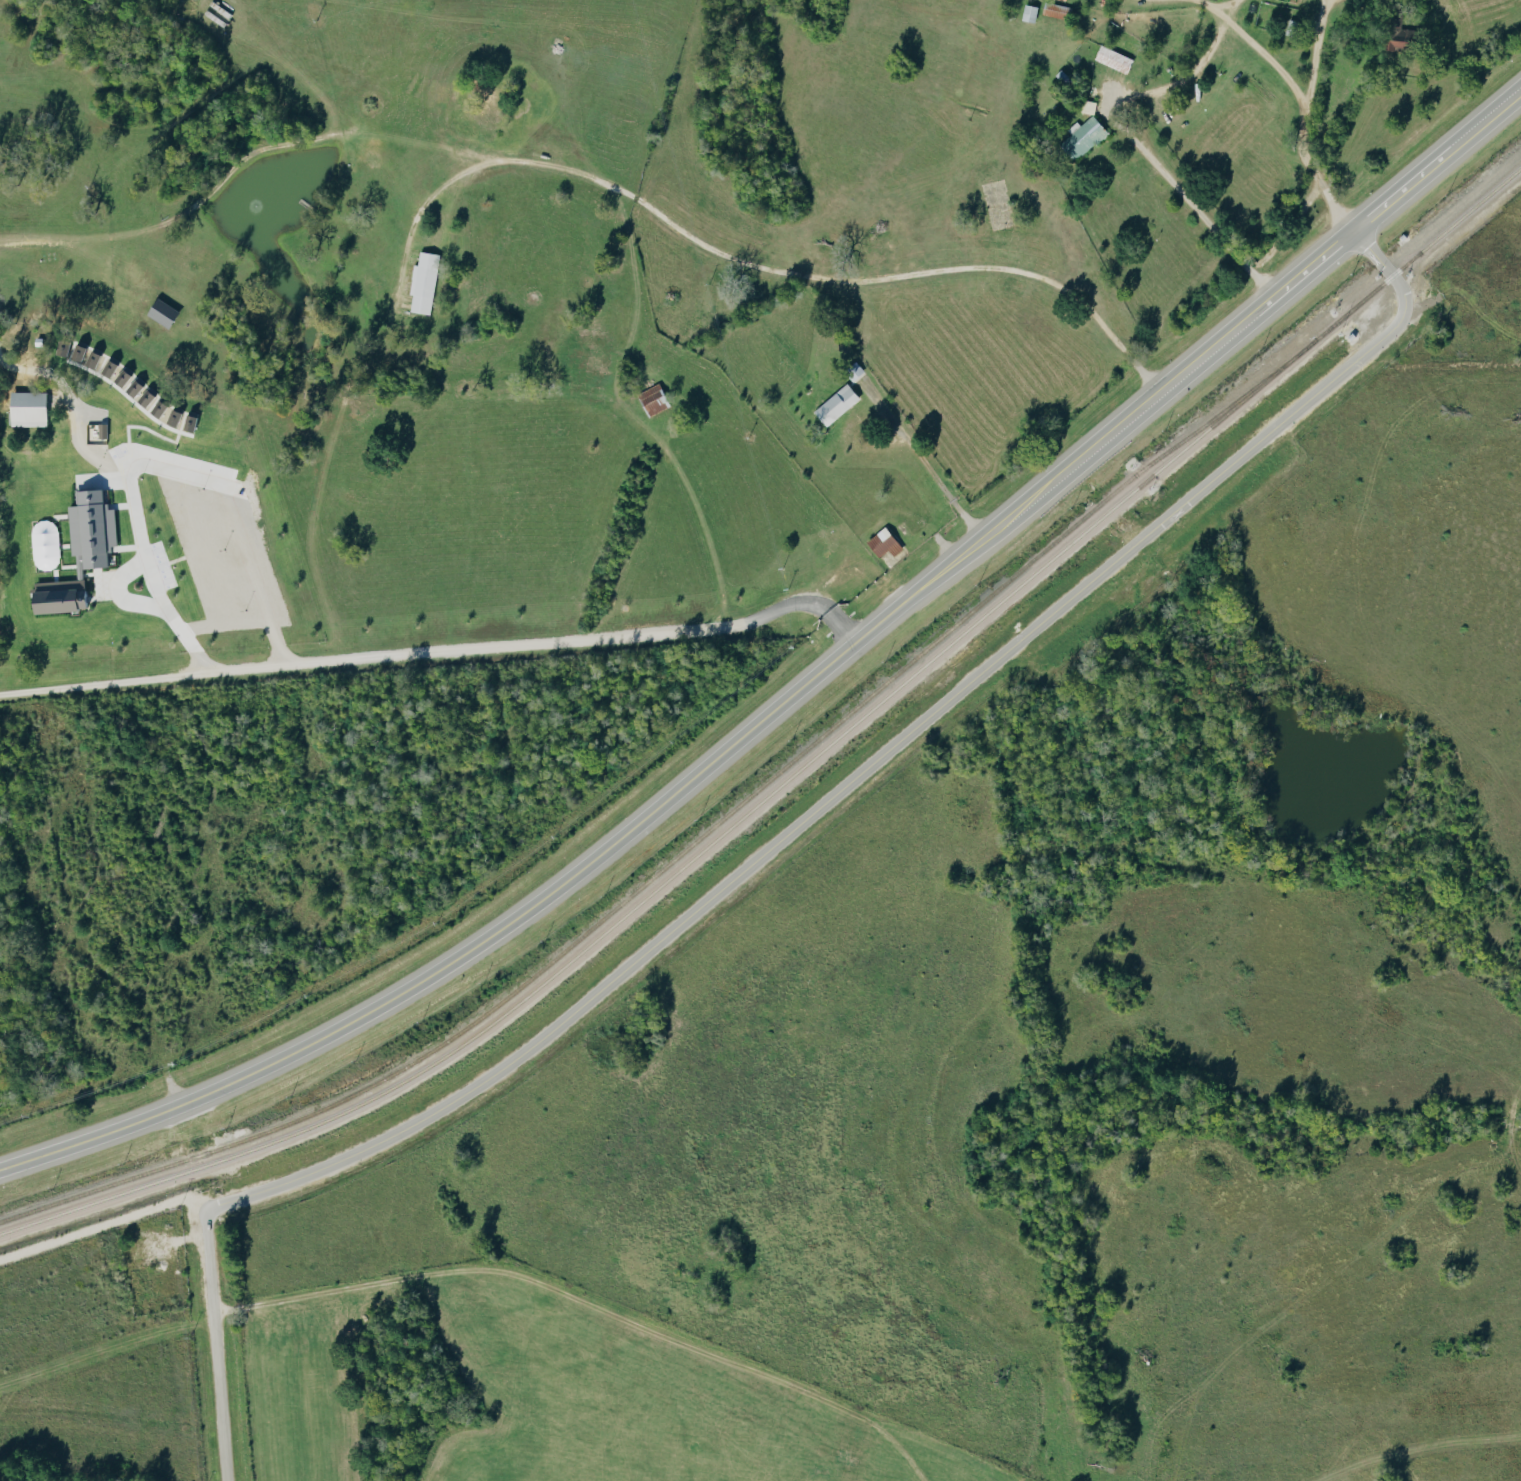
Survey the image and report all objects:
road: (1225, 5)
building: (1397, 33)
road: (1318, 51)
building: (1115, 58)
road: (1291, 88)
road: (1174, 91)
building: (1085, 136)
road: (1436, 157)
road: (1202, 213)
road: (750, 267)
building: (424, 282)
road: (1256, 307)
building: (79, 352)
building: (93, 359)
building: (855, 371)
building: (147, 397)
building: (654, 399)
building: (837, 404)
building: (29, 408)
building: (160, 409)
road: (926, 462)
road: (703, 526)
building: (92, 527)
building: (885, 542)
road: (123, 570)
road: (468, 654)
railway: (798, 763)
road: (869, 770)
road: (618, 839)
road: (583, 1312)
road: (215, 1349)

